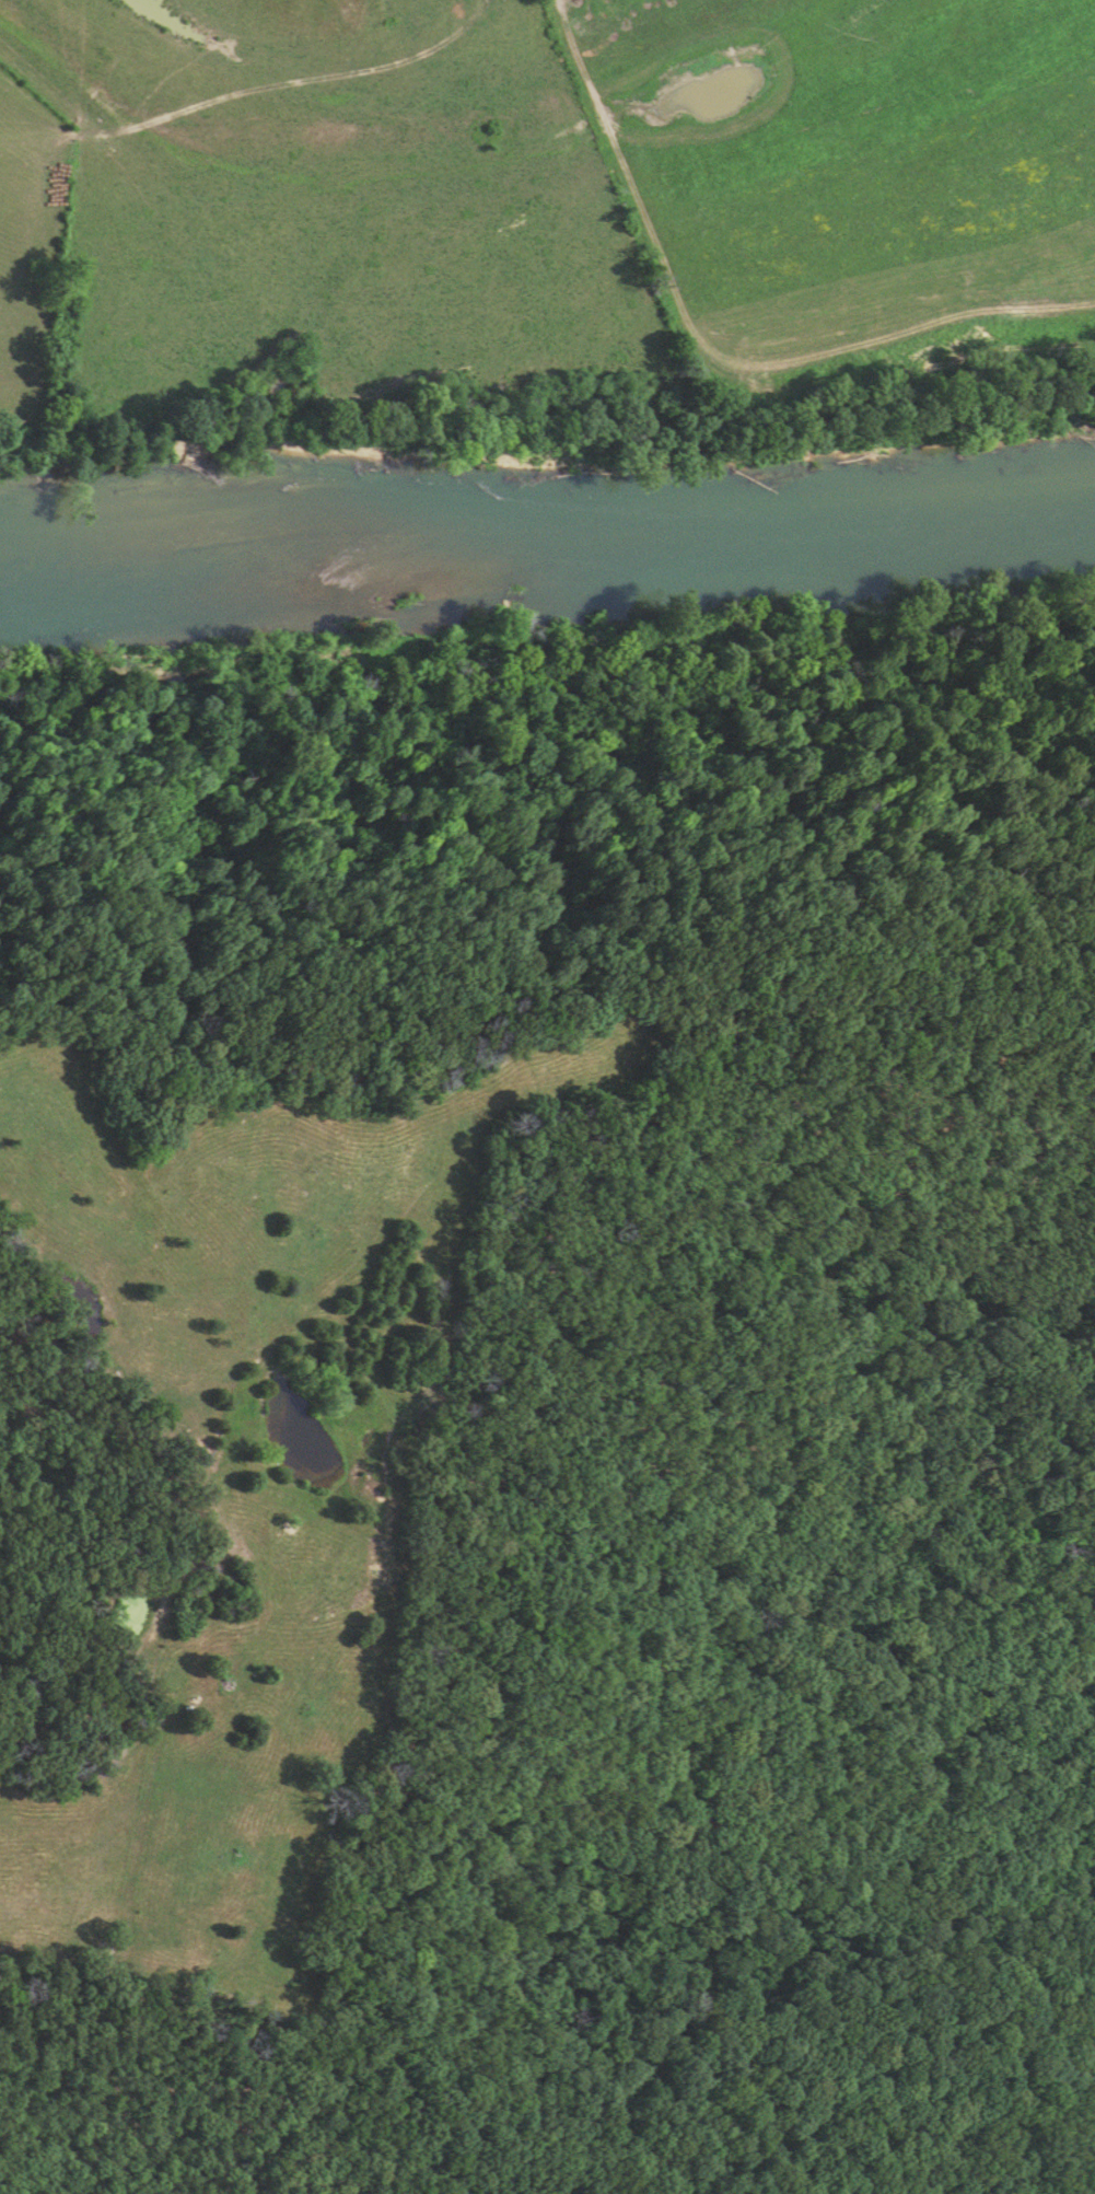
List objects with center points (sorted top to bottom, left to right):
river: (548, 571)

